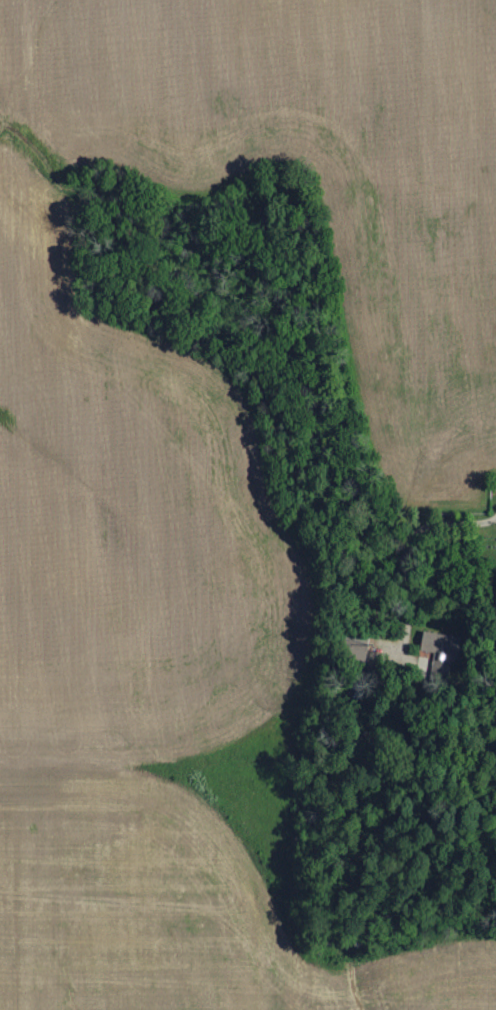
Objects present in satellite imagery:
building: (440, 646)

